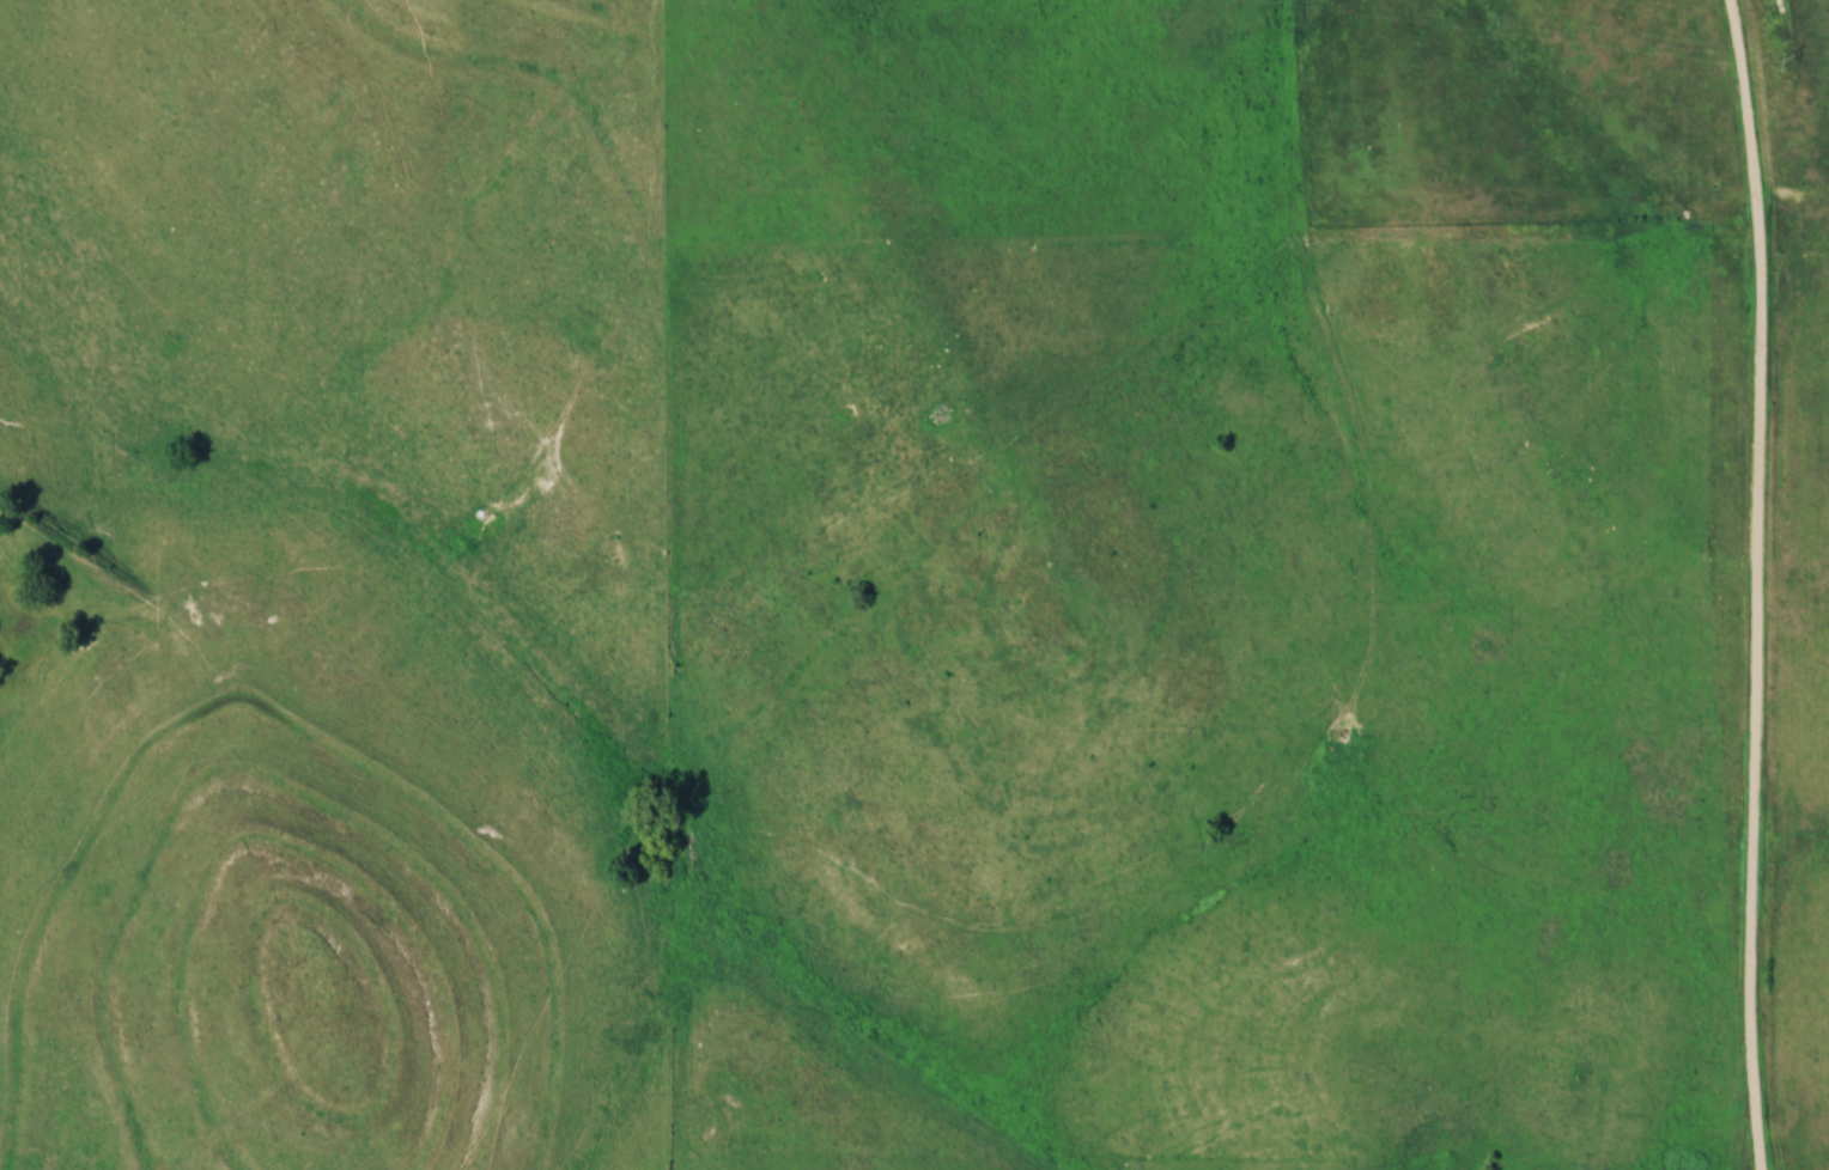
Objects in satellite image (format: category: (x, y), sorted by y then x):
road: (1756, 584)

